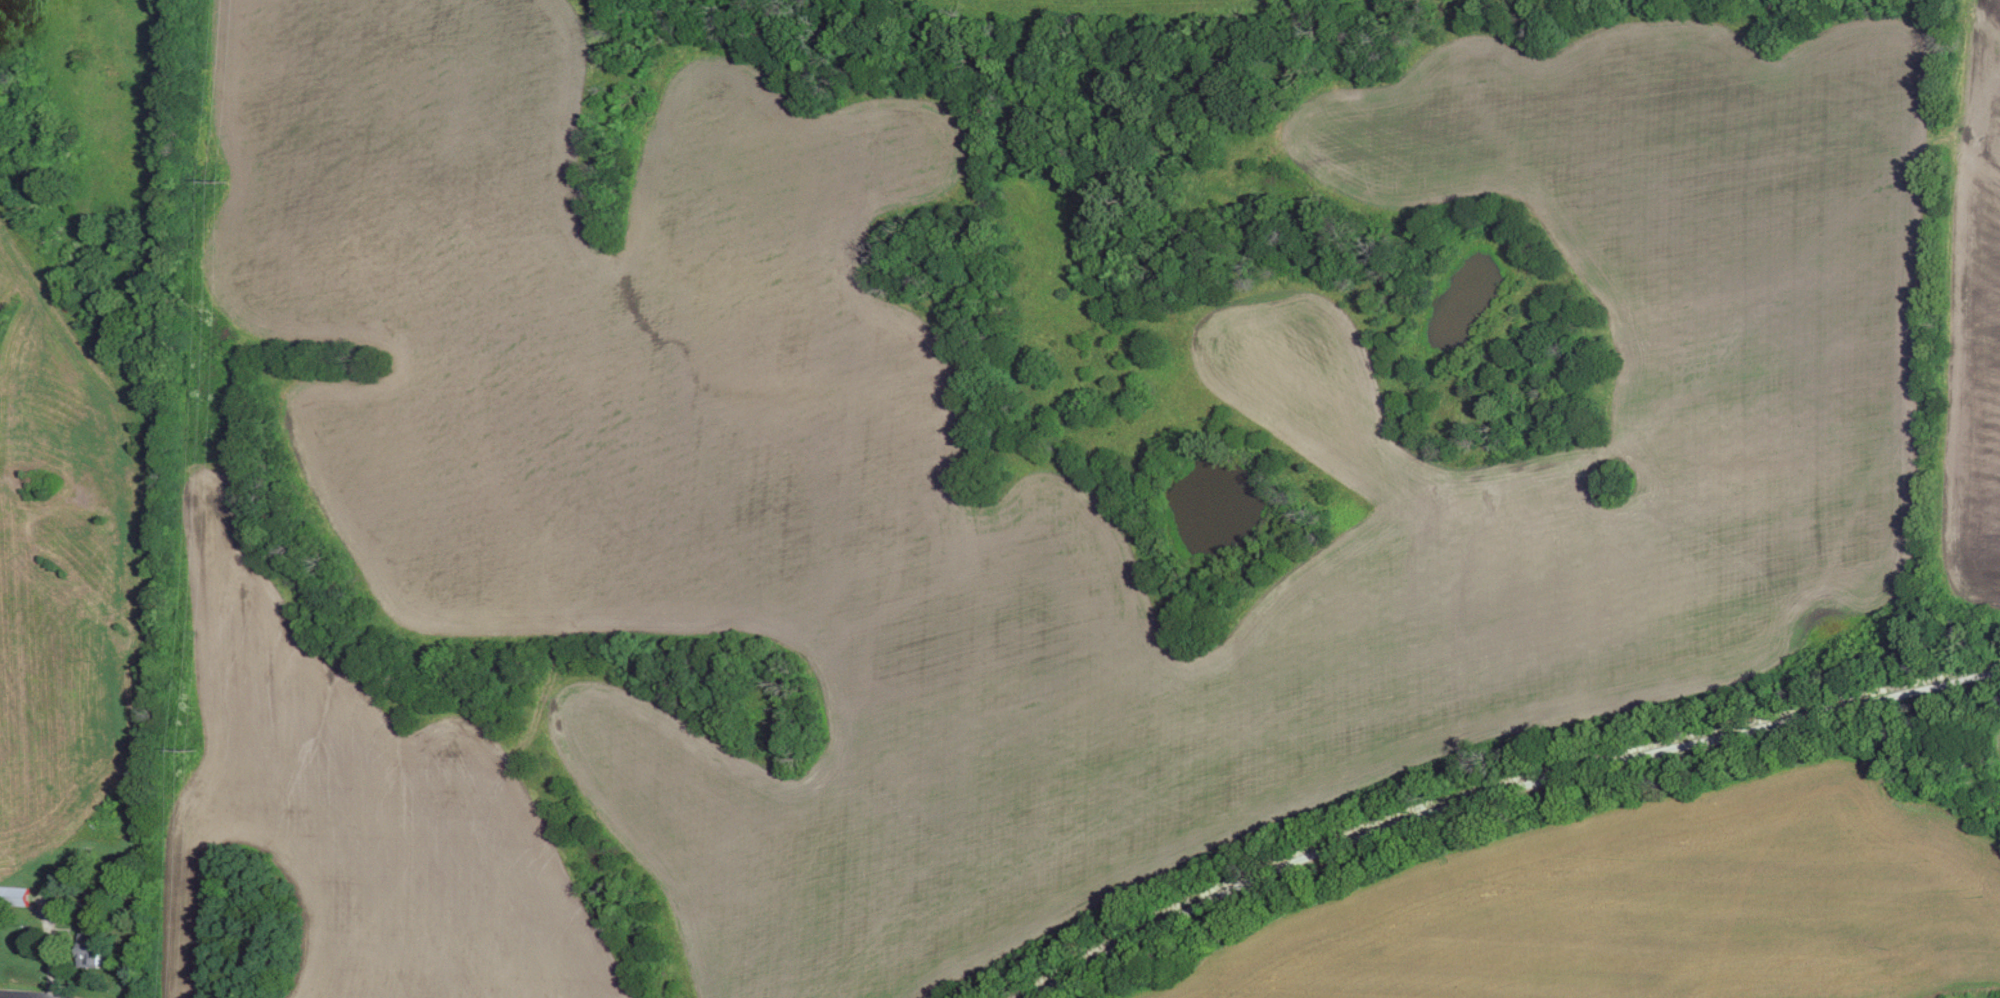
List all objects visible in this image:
power tower: (216, 191)
road: (1947, 334)
crop: (1963, 334)
power tower: (187, 754)
crop: (1991, 767)
road: (1495, 786)
building: (16, 897)
crop: (1671, 906)
building: (91, 950)
road: (10, 996)

